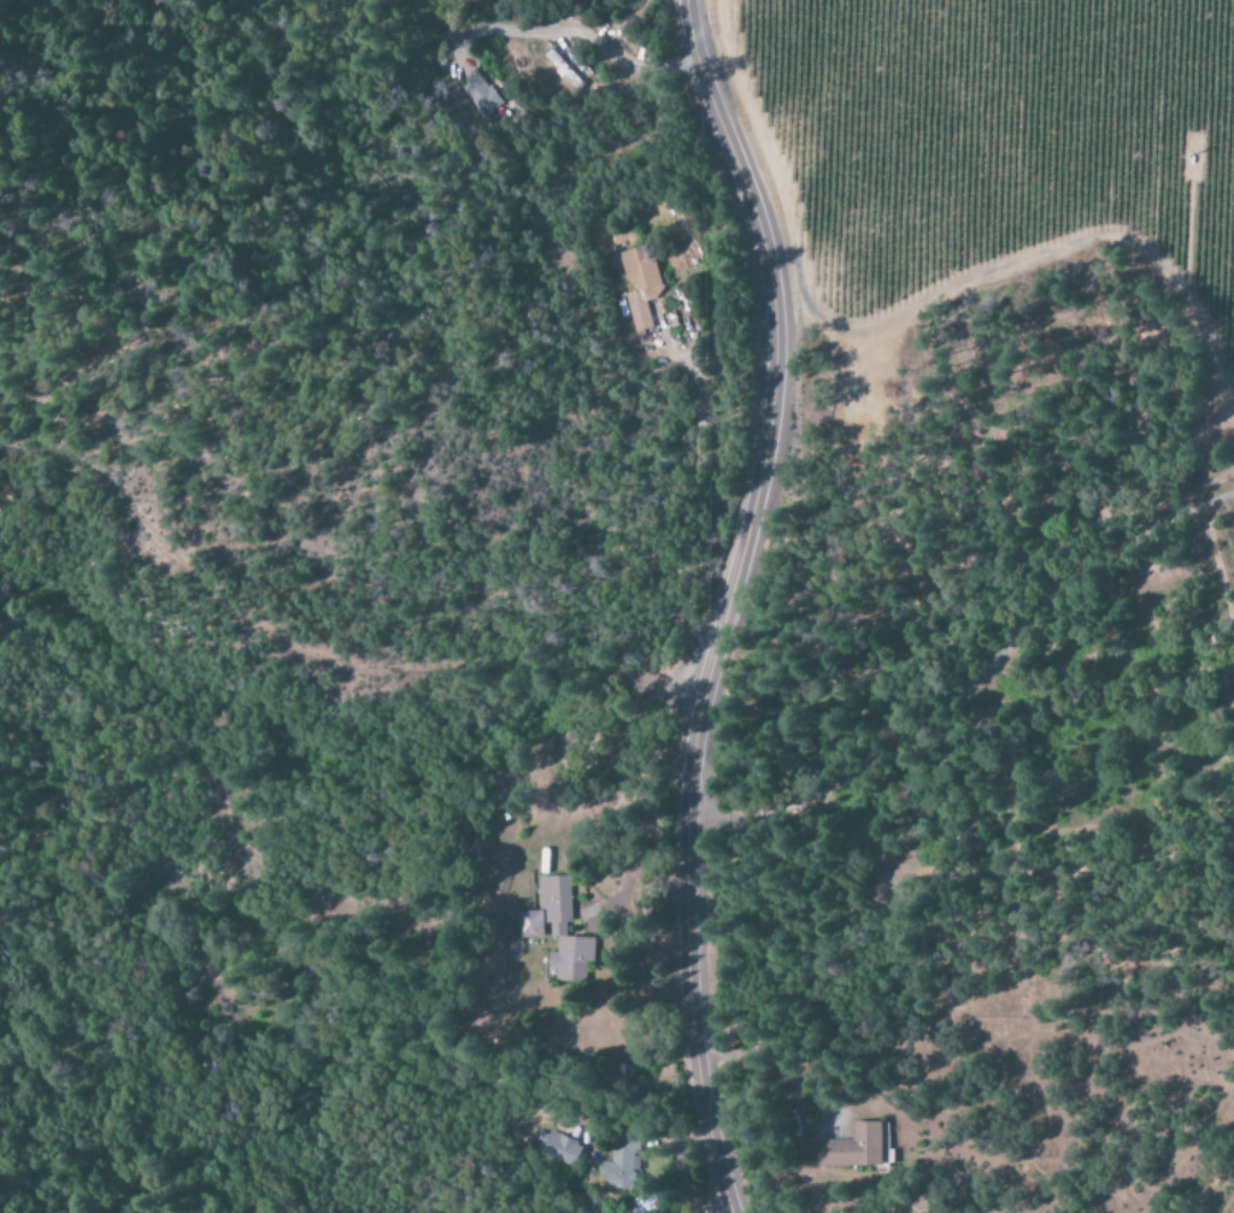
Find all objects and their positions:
building: (477, 96)
building: (641, 288)
road: (723, 601)
road: (318, 622)
road: (982, 650)
building: (558, 930)
building: (857, 1147)
building: (557, 1148)
building: (621, 1166)

